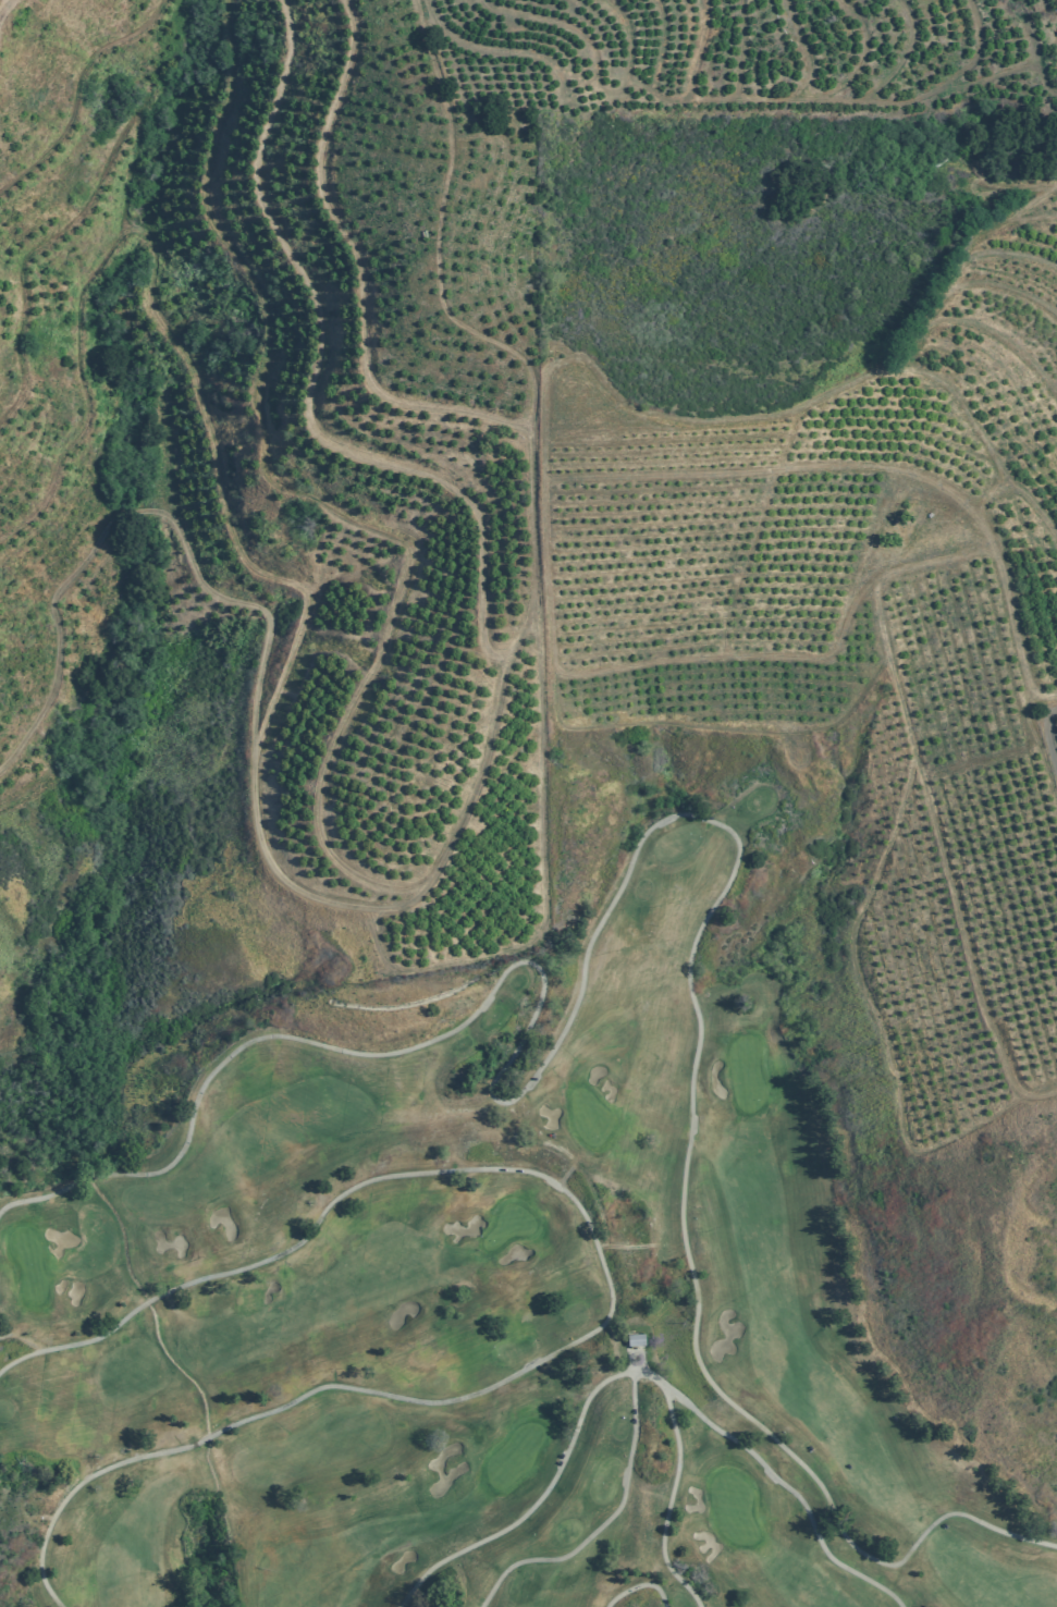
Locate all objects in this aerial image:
building: (935, 161)
road: (642, 846)
park: (499, 1284)
road: (614, 1291)
building: (637, 1340)
road: (675, 1488)
road: (792, 1495)
road: (540, 1508)
road: (615, 1519)
road: (640, 1585)

